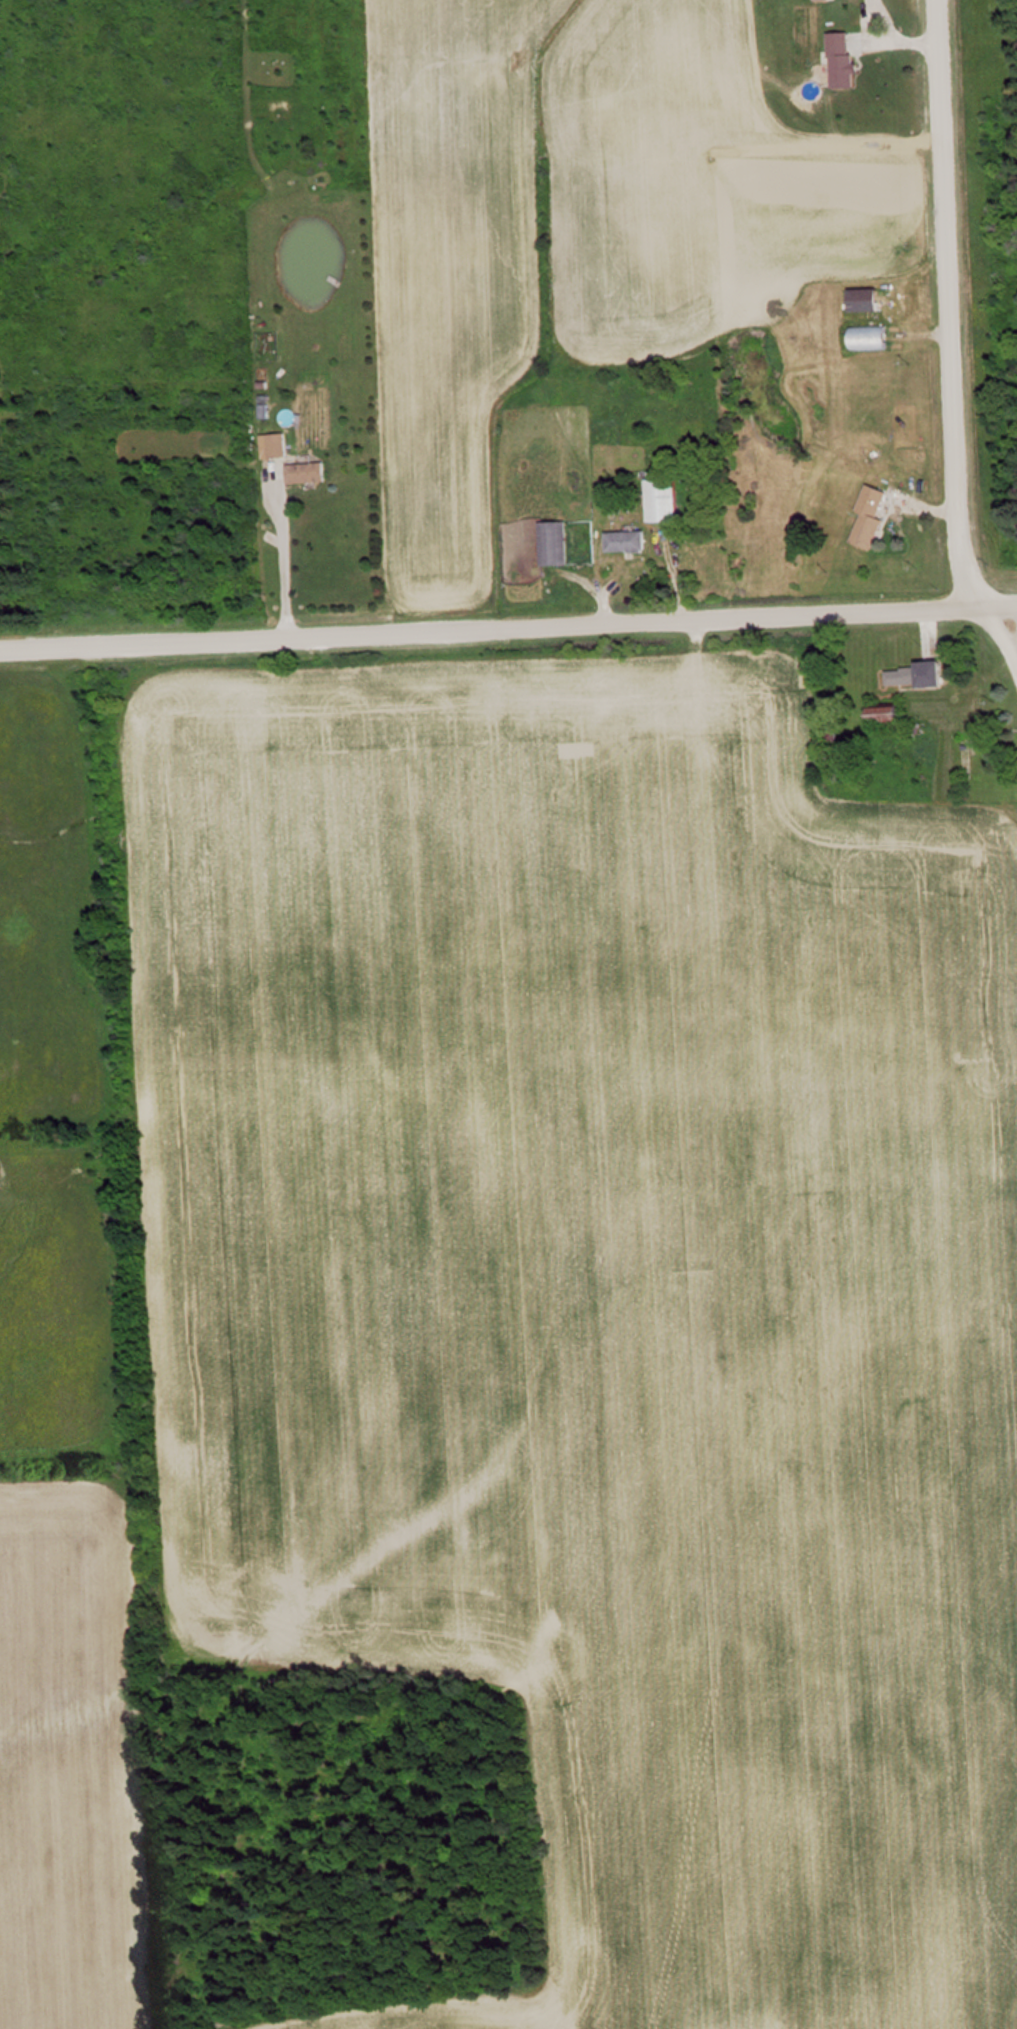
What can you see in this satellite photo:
building: (846, 60)
building: (868, 299)
building: (874, 336)
road: (946, 343)
building: (280, 444)
building: (310, 472)
building: (669, 498)
building: (874, 515)
building: (630, 540)
building: (558, 542)
road: (508, 625)
road: (1015, 665)
building: (918, 675)
building: (895, 713)

